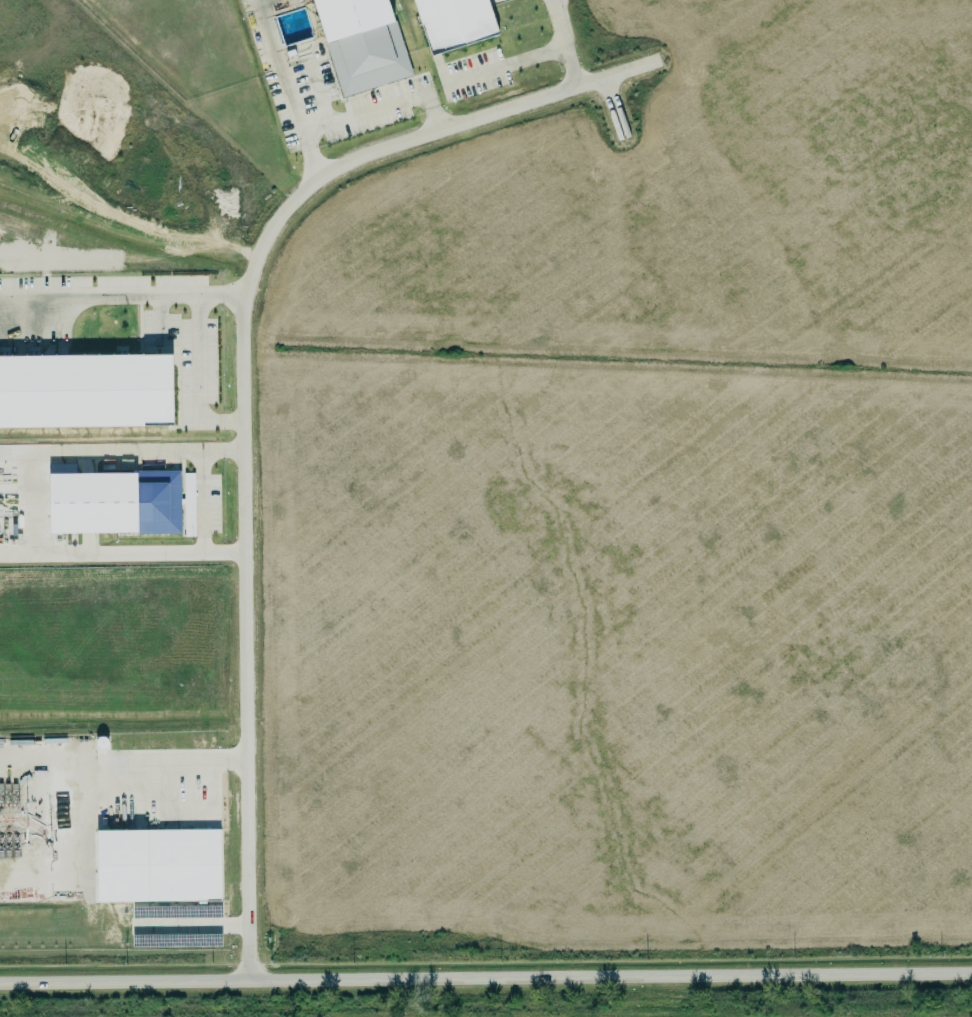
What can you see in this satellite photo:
building: (452, 22)
building: (360, 43)
road: (558, 43)
road: (501, 66)
road: (283, 91)
road: (377, 108)
road: (121, 297)
road: (198, 378)
road: (240, 383)
building: (86, 391)
road: (120, 451)
road: (199, 502)
building: (122, 503)
road: (34, 505)
road: (121, 554)
road: (101, 762)
road: (157, 813)
building: (159, 860)
road: (193, 925)
road: (485, 975)

